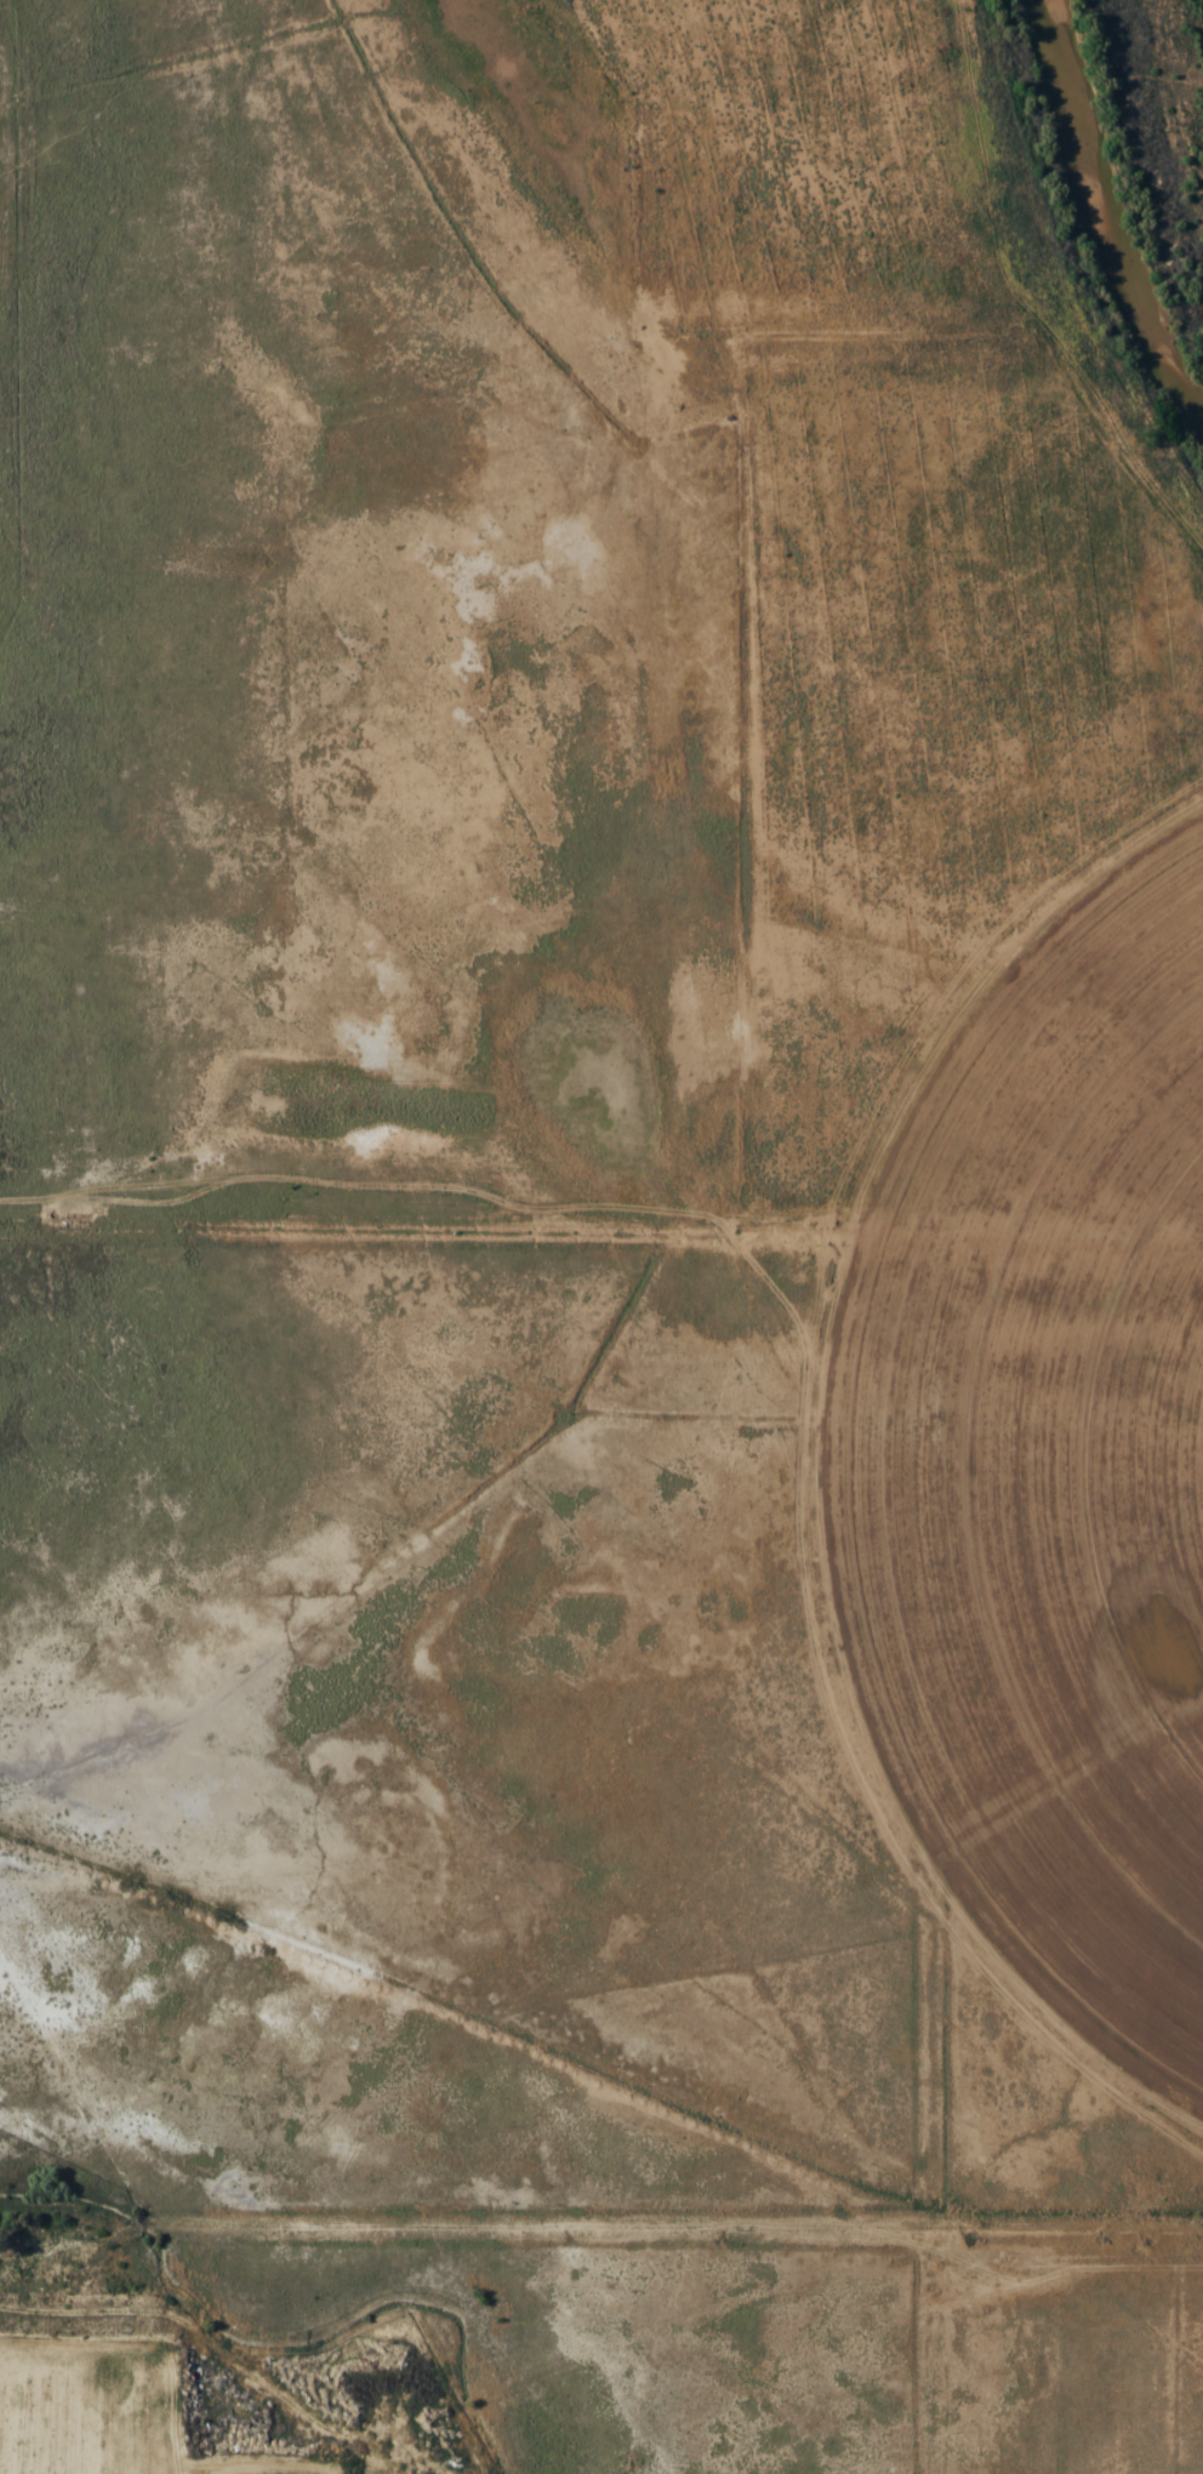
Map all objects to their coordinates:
river: (1105, 215)

